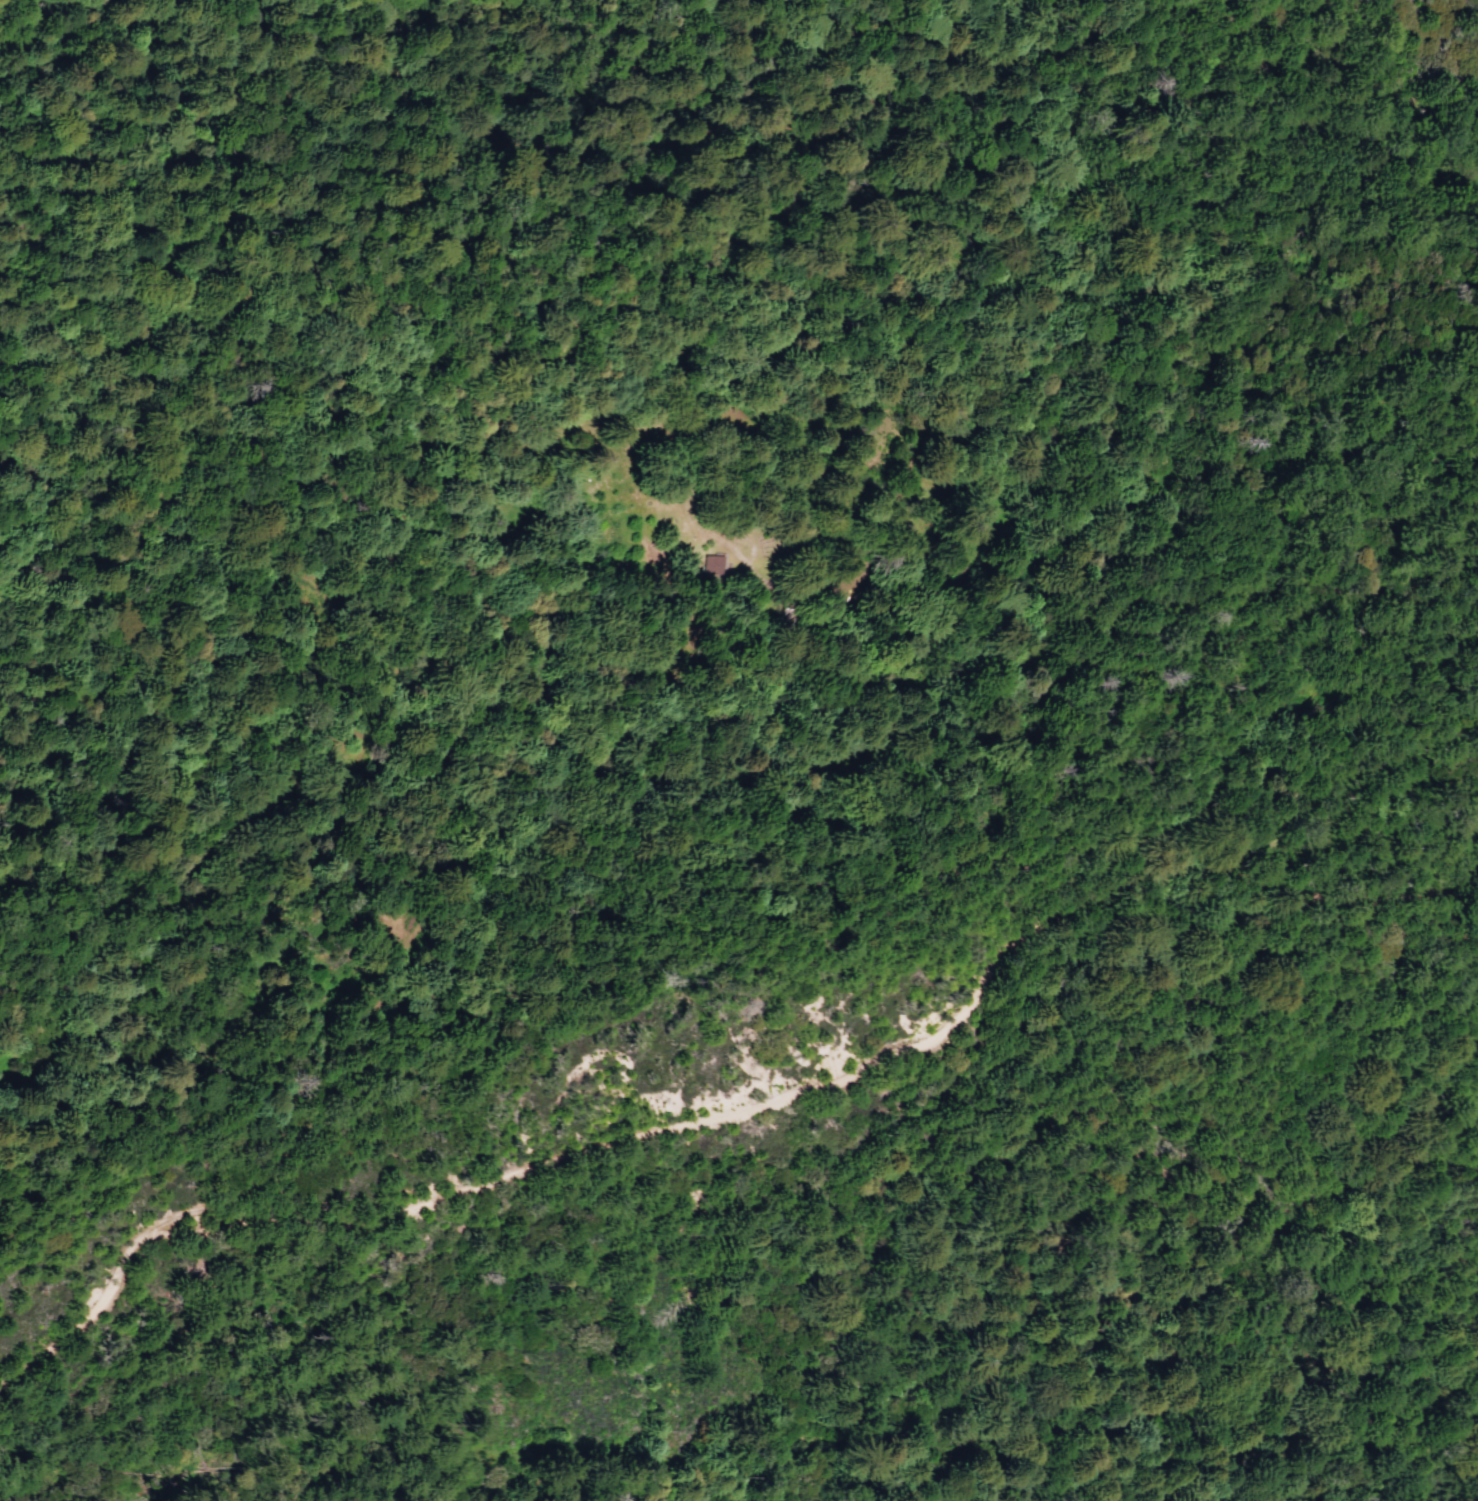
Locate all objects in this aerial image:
building: (1343, 609)
road: (1284, 731)
road: (264, 821)
building: (1281, 960)
road: (741, 1114)
road: (1090, 1347)
road: (1449, 1461)

